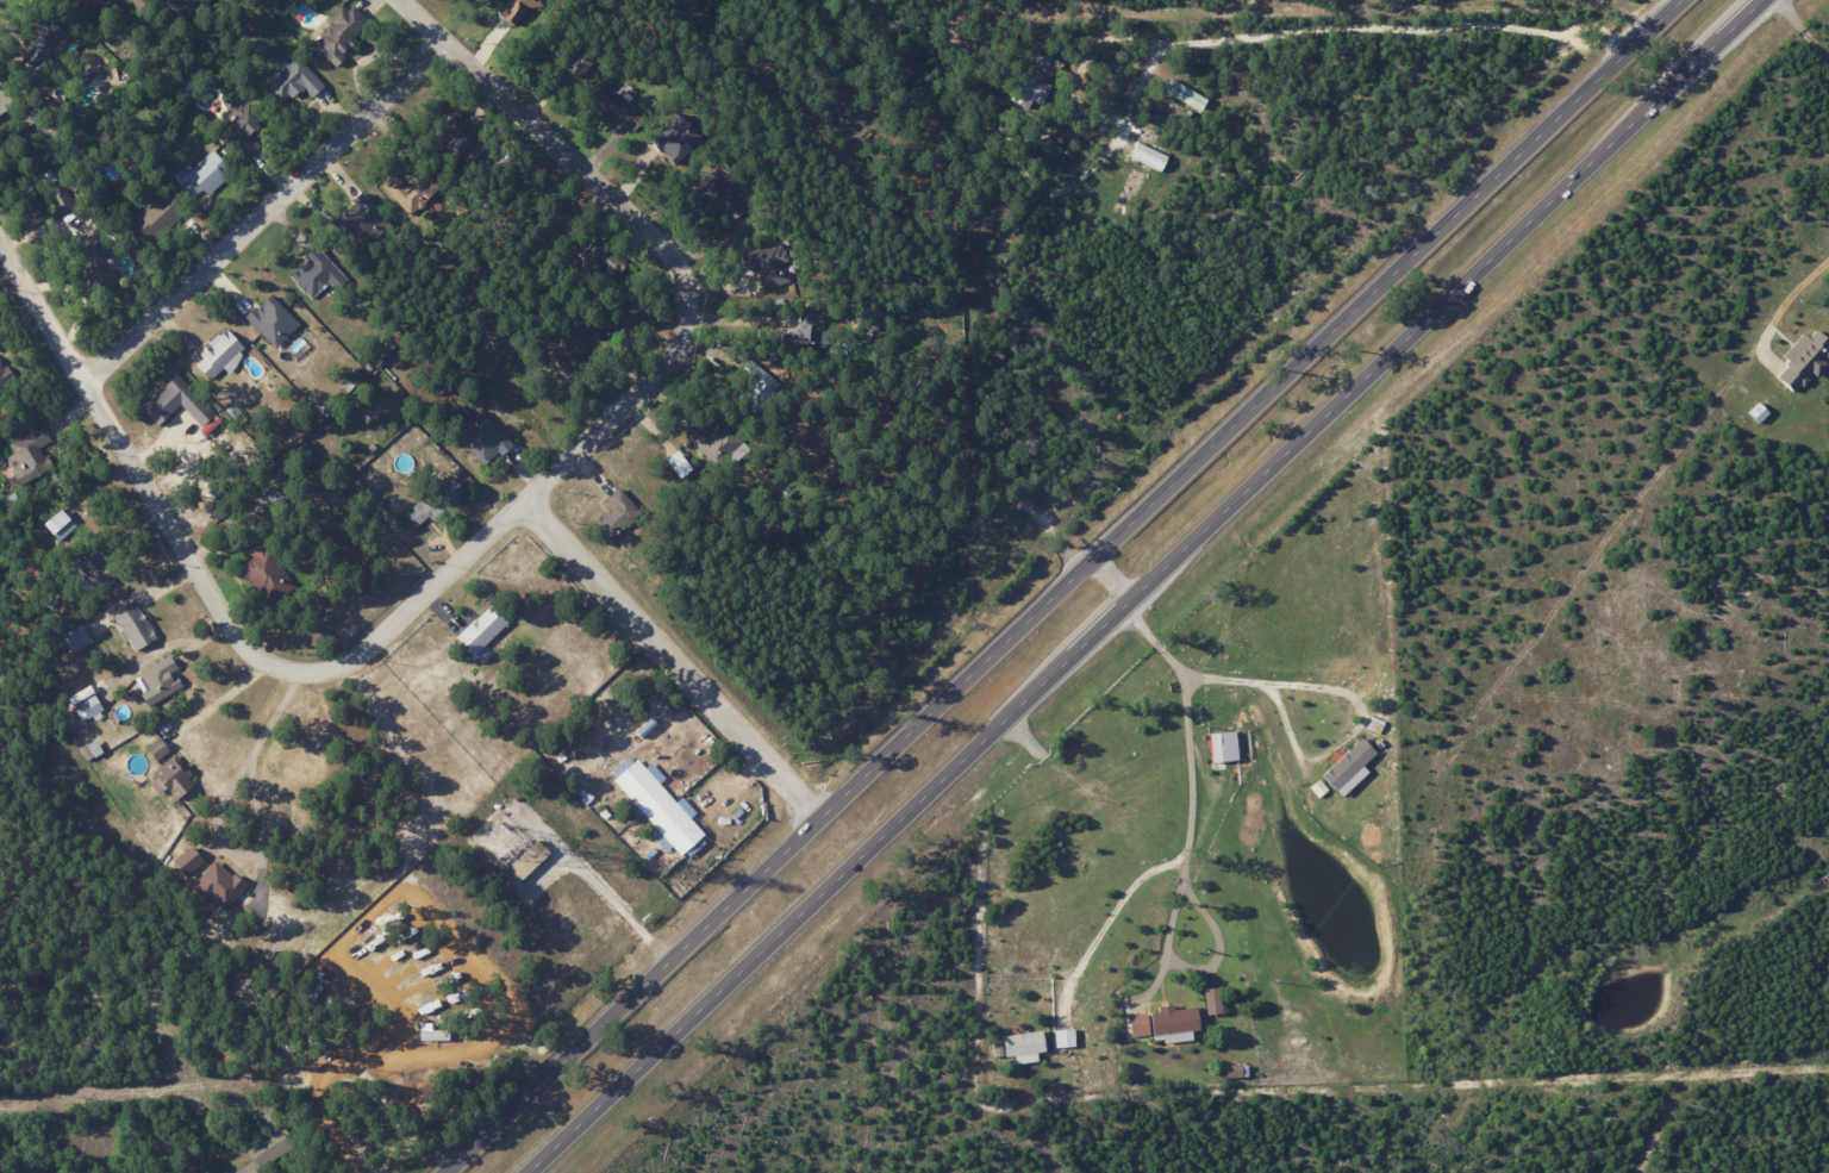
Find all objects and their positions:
building: (520, 7)
building: (98, 10)
road: (1800, 27)
building: (341, 31)
road: (1297, 32)
building: (44, 44)
building: (292, 80)
building: (1187, 95)
building: (5, 100)
building: (628, 113)
building: (245, 129)
building: (678, 138)
building: (1149, 157)
building: (201, 175)
building: (401, 195)
building: (60, 199)
road: (266, 211)
building: (157, 216)
building: (362, 217)
building: (774, 262)
building: (318, 274)
road: (1386, 277)
building: (273, 320)
road: (738, 323)
road: (1767, 327)
building: (220, 354)
building: (0, 355)
building: (1806, 358)
building: (177, 406)
building: (485, 443)
building: (29, 454)
building: (681, 463)
building: (436, 501)
building: (619, 512)
road: (474, 548)
building: (266, 573)
road: (1111, 579)
road: (1144, 587)
building: (135, 625)
building: (482, 629)
road: (1157, 638)
road: (672, 660)
building: (158, 680)
building: (87, 703)
road: (232, 706)
road: (1355, 715)
building: (1224, 745)
building: (157, 749)
building: (94, 750)
building: (1352, 766)
building: (175, 776)
road: (1190, 776)
building: (660, 806)
road: (224, 821)
building: (189, 860)
road: (768, 865)
road: (599, 885)
building: (219, 886)
road: (451, 928)
park: (899, 931)
road: (1107, 935)
road: (1165, 938)
building: (1213, 1000)
building: (1167, 1022)
building: (1063, 1038)
building: (1025, 1046)
road: (331, 1125)
building: (261, 1156)

